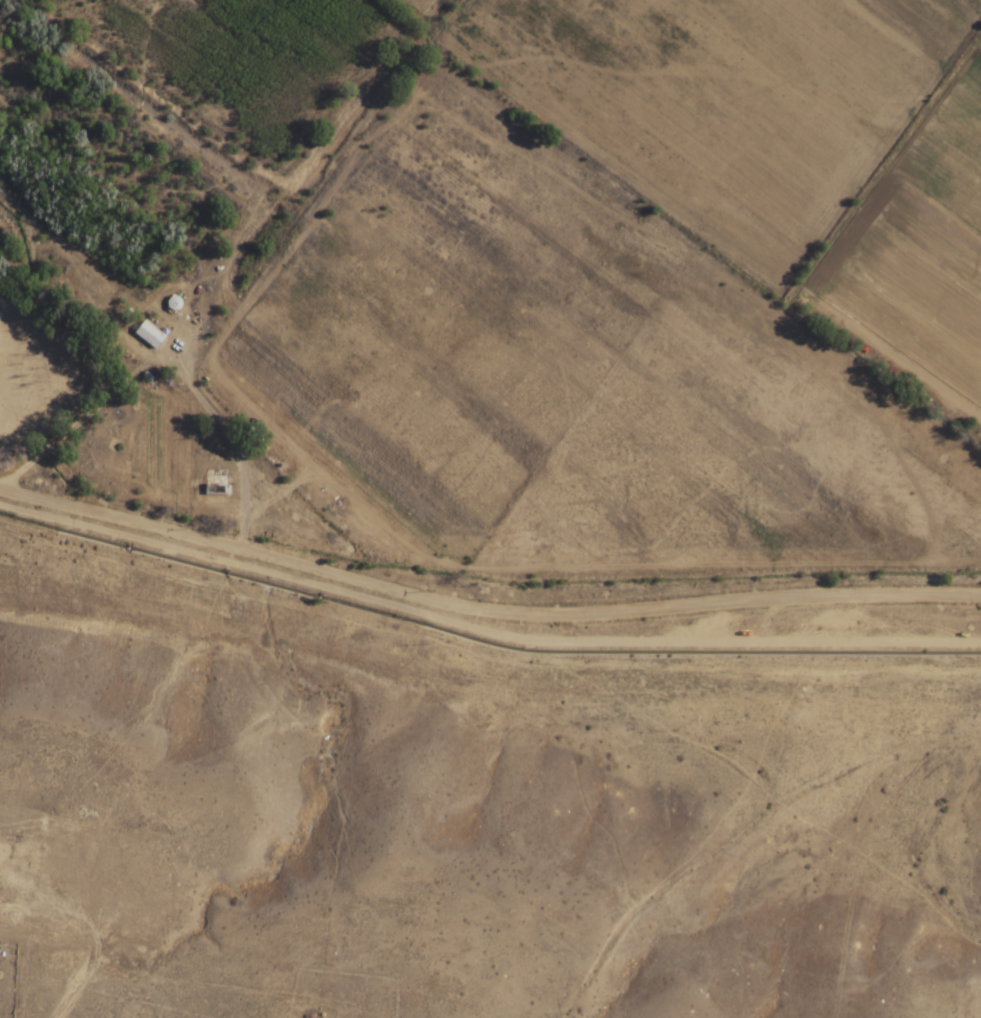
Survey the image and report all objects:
building: (175, 303)
building: (153, 337)
building: (217, 482)
road: (484, 609)

